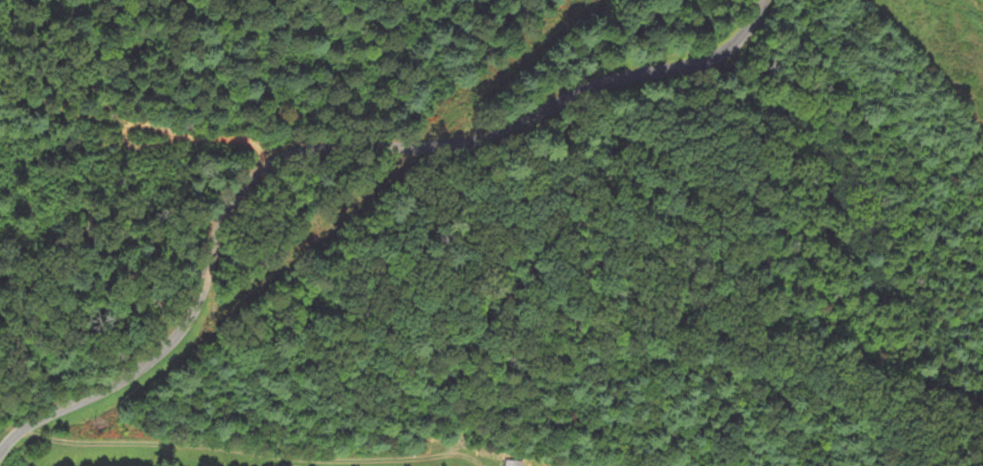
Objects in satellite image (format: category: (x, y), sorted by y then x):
road: (323, 138)
building: (515, 463)

